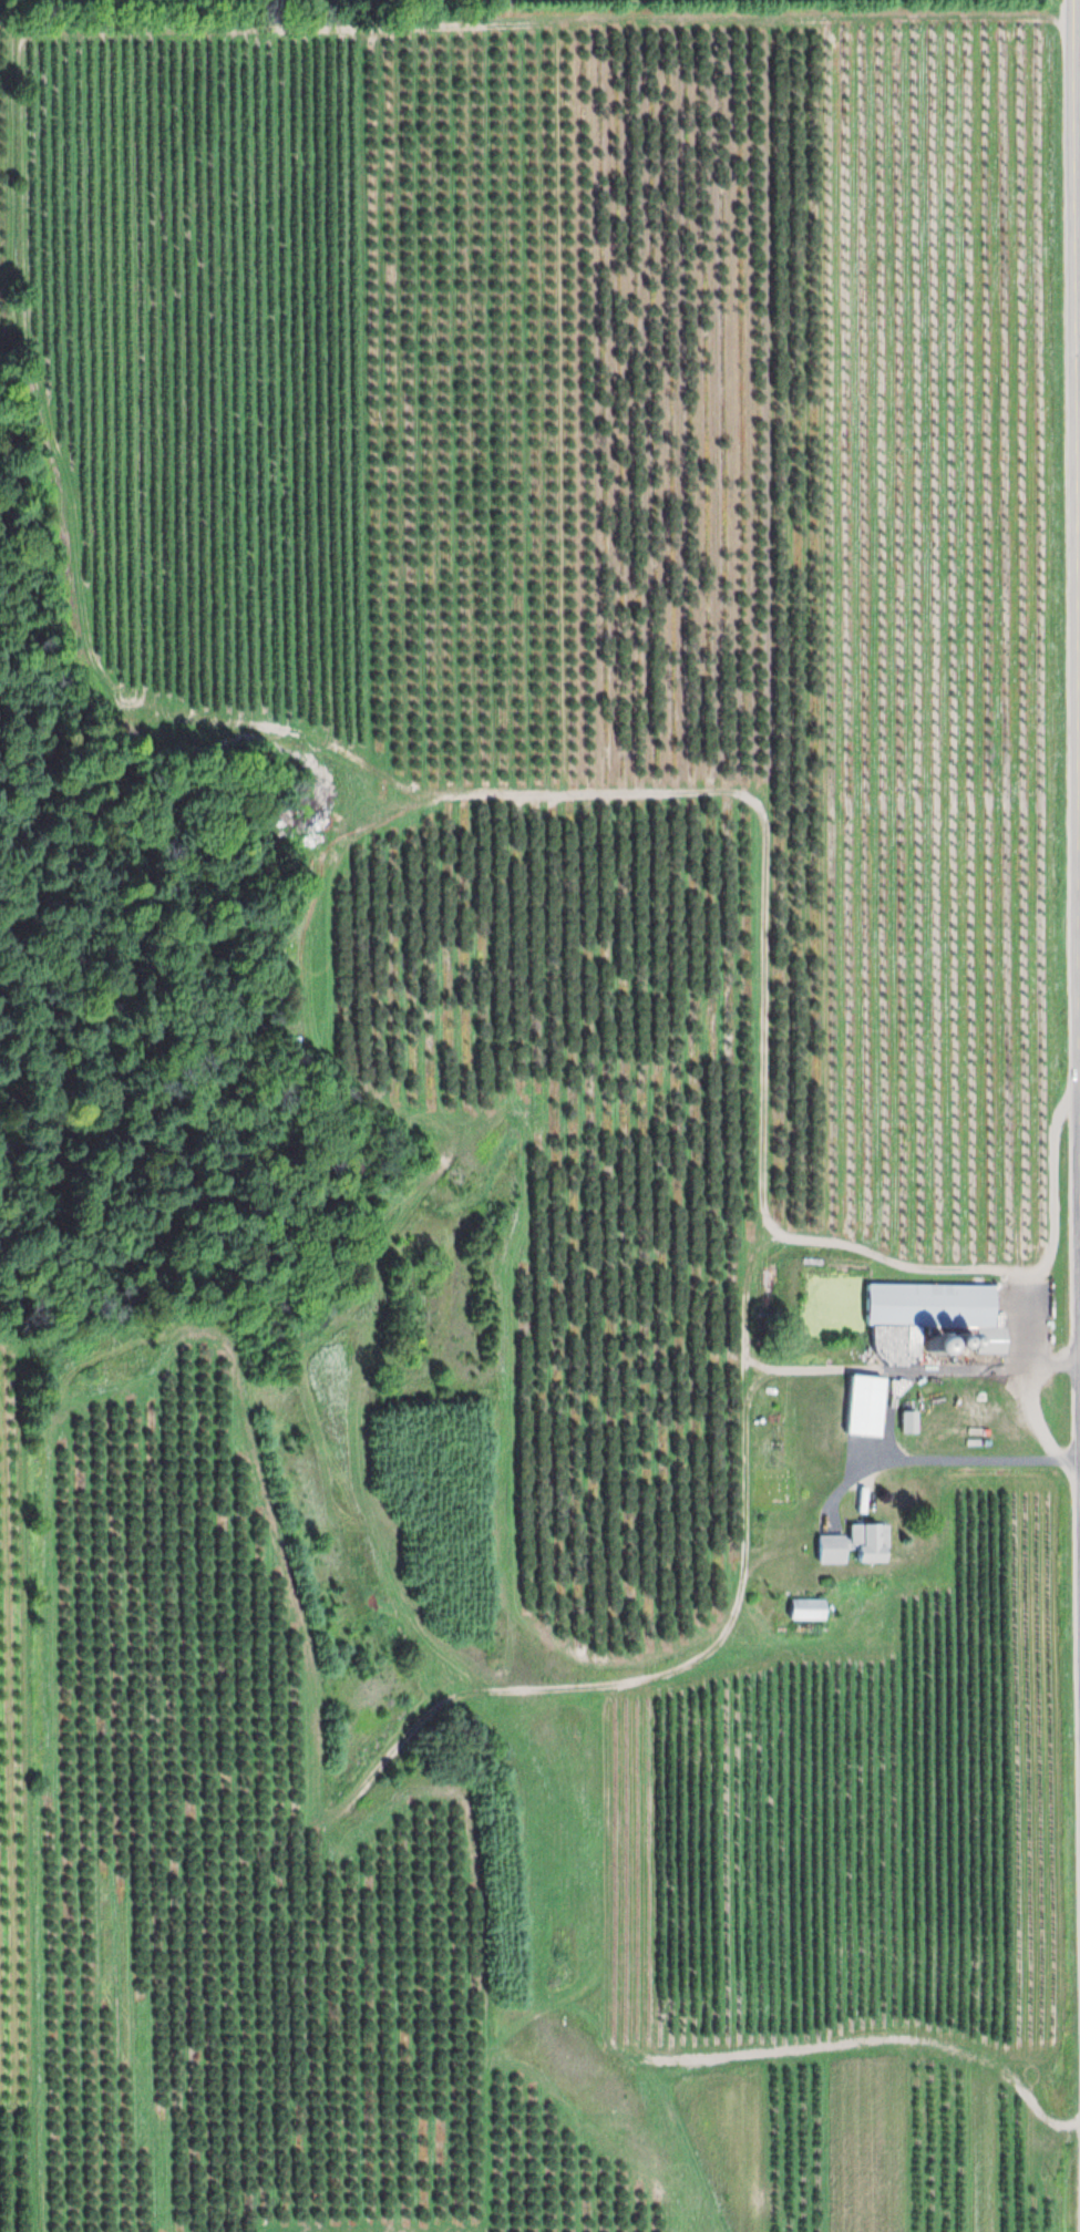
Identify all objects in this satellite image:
road: (1073, 534)
road: (1079, 1067)
road: (1079, 1107)
building: (927, 1314)
building: (858, 1408)
building: (902, 1426)
building: (847, 1546)
building: (800, 1611)

